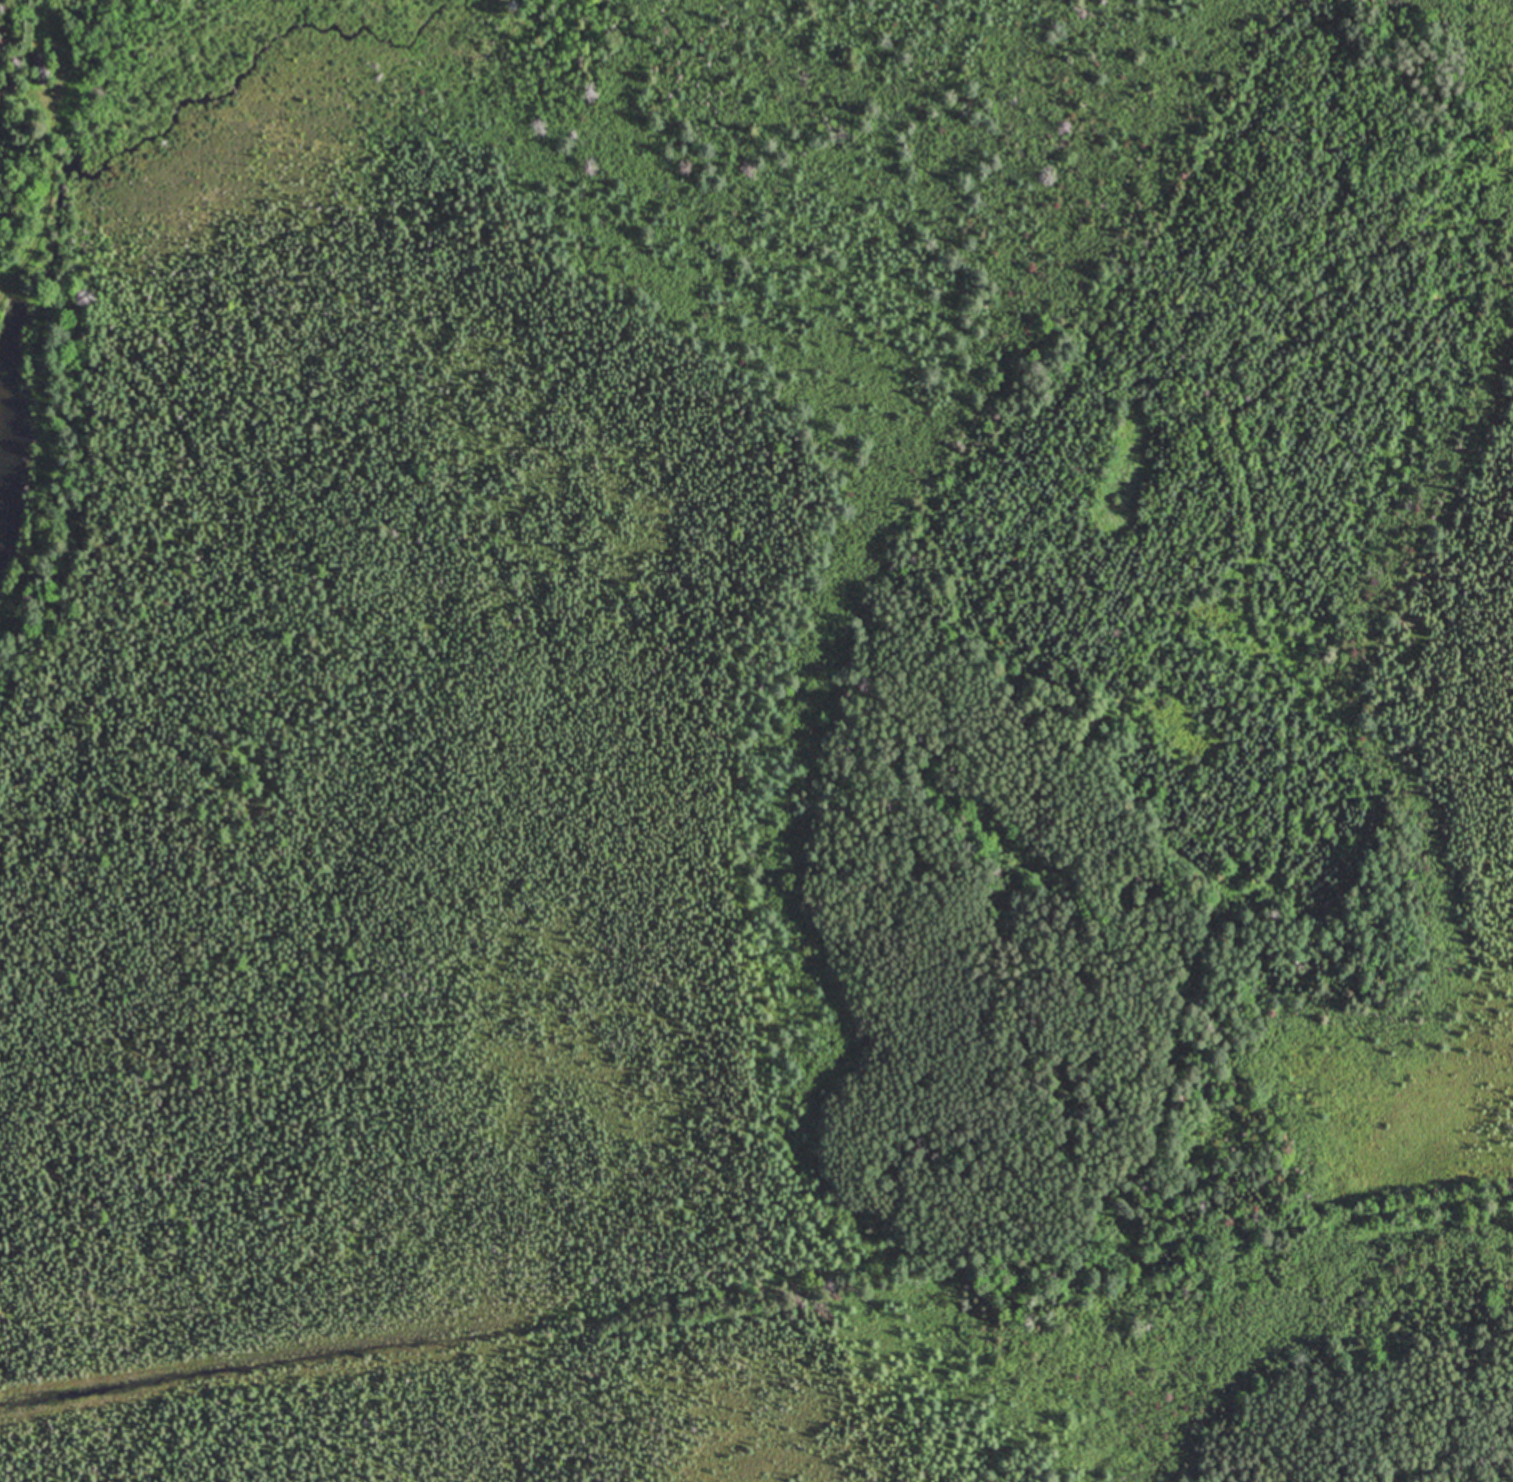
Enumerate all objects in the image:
road: (48, 155)

